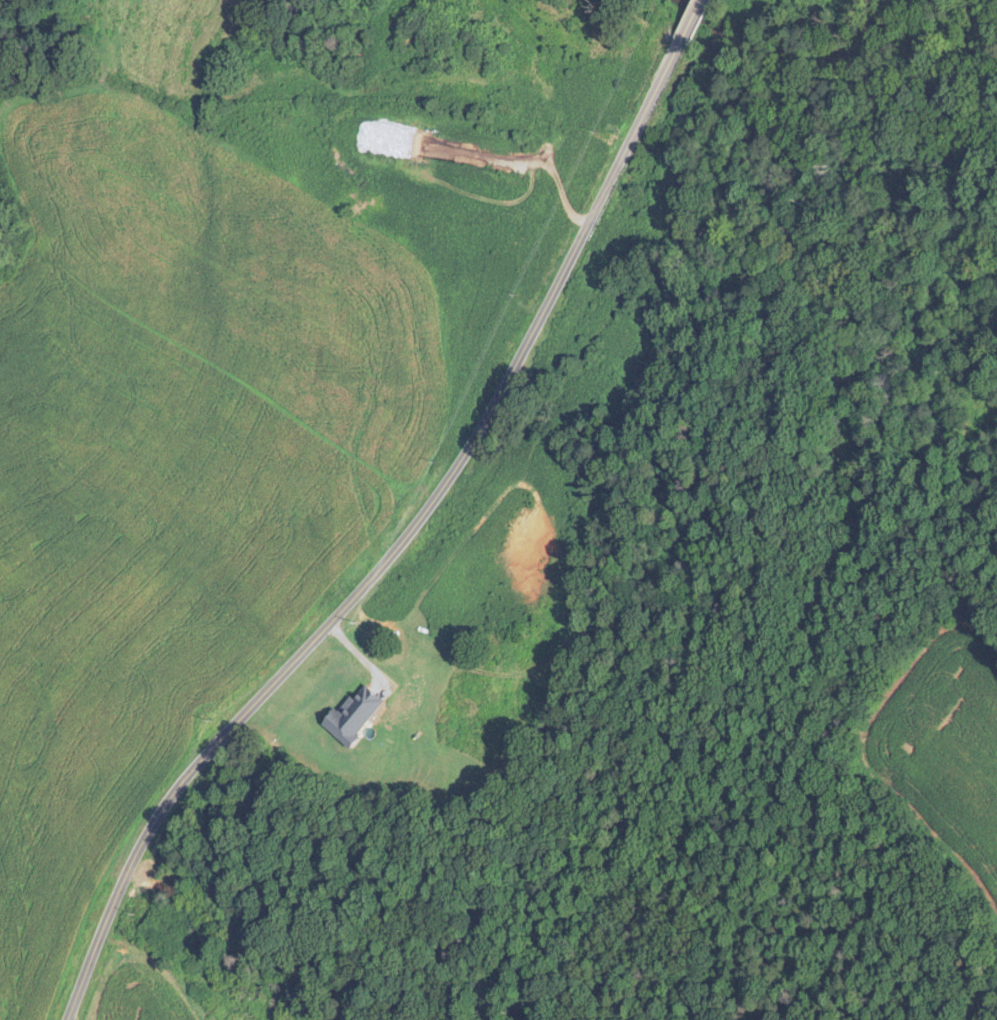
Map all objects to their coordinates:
road: (691, 18)
road: (397, 546)
building: (361, 712)

